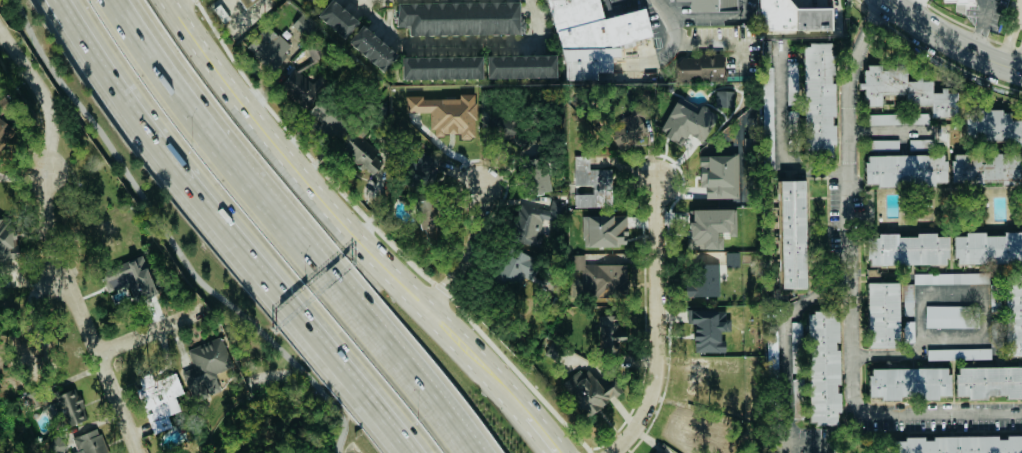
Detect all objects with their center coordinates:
road: (755, 1)
building: (956, 1)
building: (246, 2)
building: (1021, 2)
building: (710, 5)
road: (1017, 10)
building: (220, 13)
building: (458, 17)
building: (792, 17)
building: (336, 18)
road: (983, 23)
building: (302, 25)
building: (593, 26)
road: (955, 37)
road: (1009, 37)
road: (694, 38)
road: (457, 45)
building: (268, 49)
building: (375, 51)
road: (1021, 61)
building: (520, 66)
building: (441, 68)
building: (699, 69)
building: (792, 77)
building: (906, 90)
building: (296, 94)
building: (724, 99)
building: (818, 99)
building: (447, 113)
building: (898, 119)
building: (687, 124)
building: (629, 126)
building: (993, 127)
building: (5, 134)
road: (897, 134)
building: (919, 143)
building: (883, 144)
road: (785, 147)
building: (360, 160)
building: (426, 164)
building: (986, 168)
building: (905, 169)
building: (718, 176)
building: (418, 182)
building: (592, 184)
road: (193, 185)
building: (427, 213)
building: (538, 221)
road: (291, 227)
building: (709, 228)
building: (604, 230)
building: (792, 234)
road: (353, 236)
road: (52, 238)
road: (169, 238)
building: (7, 244)
building: (988, 248)
road: (468, 249)
building: (907, 249)
building: (732, 259)
building: (519, 267)
building: (951, 278)
road: (54, 279)
building: (130, 279)
building: (604, 280)
building: (705, 280)
road: (850, 285)
road: (986, 293)
building: (1013, 314)
building: (886, 316)
building: (951, 316)
road: (657, 321)
building: (706, 331)
road: (146, 333)
building: (611, 335)
building: (795, 337)
building: (20, 344)
building: (771, 350)
building: (958, 354)
road: (889, 355)
road: (786, 360)
building: (822, 366)
building: (205, 368)
building: (705, 377)
building: (989, 381)
building: (909, 383)
building: (591, 390)
building: (159, 401)
road: (375, 407)
road: (362, 408)
building: (65, 409)
building: (89, 442)
building: (958, 444)
building: (656, 451)

